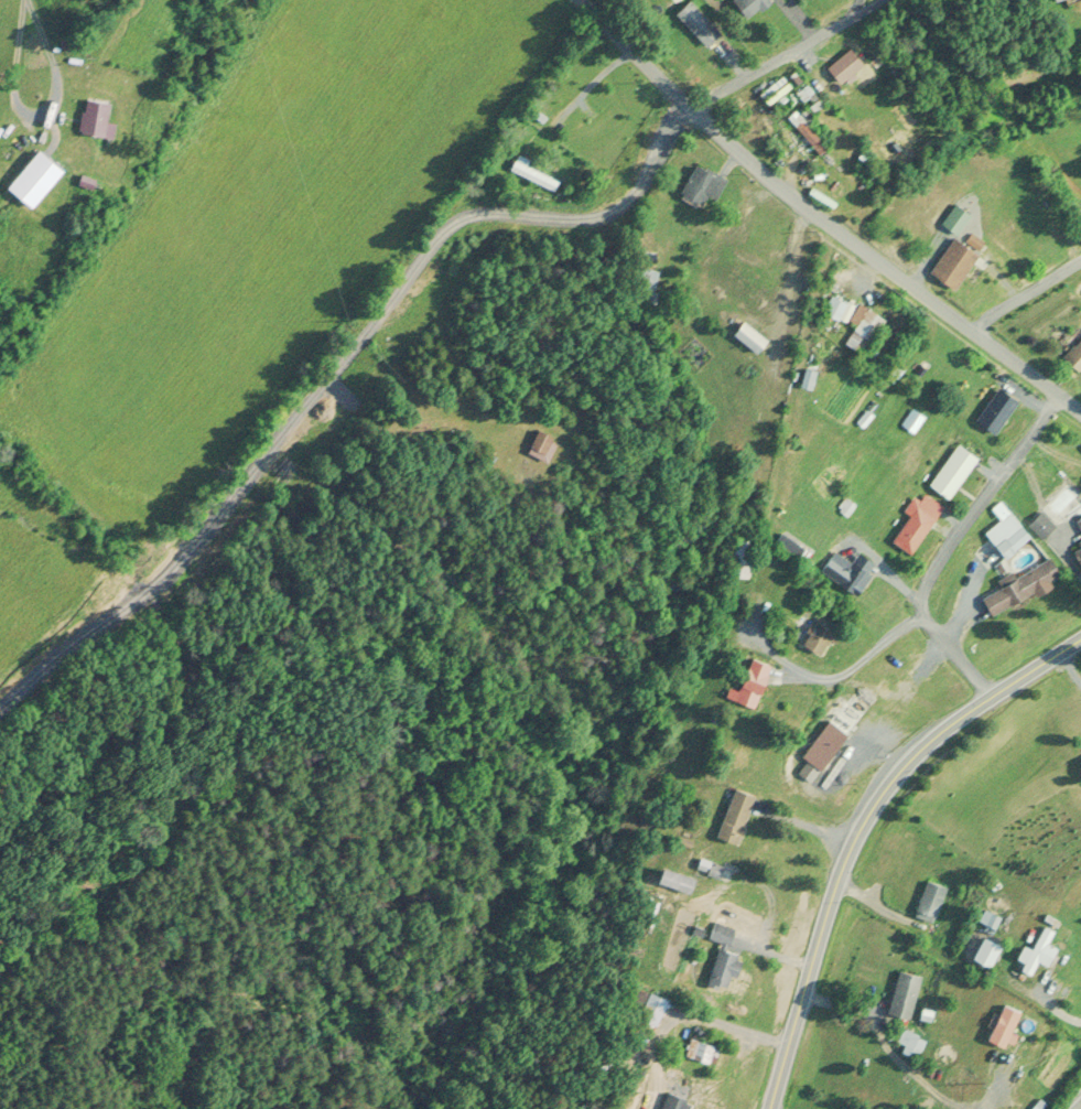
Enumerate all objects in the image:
building: (745, 6)
building: (694, 23)
road: (779, 54)
building: (840, 66)
road: (35, 111)
building: (89, 119)
building: (802, 132)
building: (530, 173)
building: (28, 179)
building: (696, 185)
road: (819, 218)
building: (1015, 222)
building: (949, 265)
building: (733, 273)
road: (1024, 292)
building: (830, 308)
building: (857, 331)
building: (744, 337)
building: (1075, 356)
road: (335, 365)
building: (992, 411)
building: (537, 445)
building: (949, 472)
building: (910, 524)
building: (1038, 525)
building: (1009, 534)
building: (1067, 539)
road: (947, 541)
building: (739, 559)
building: (852, 573)
building: (1016, 585)
building: (813, 638)
building: (745, 681)
building: (828, 732)
building: (1079, 761)
building: (729, 815)
road: (861, 829)
building: (671, 879)
building: (928, 901)
building: (986, 920)
building: (717, 933)
building: (1035, 950)
building: (720, 970)
building: (900, 993)
building: (648, 1010)
building: (999, 1026)
building: (909, 1040)
building: (694, 1049)
road: (1071, 1100)

